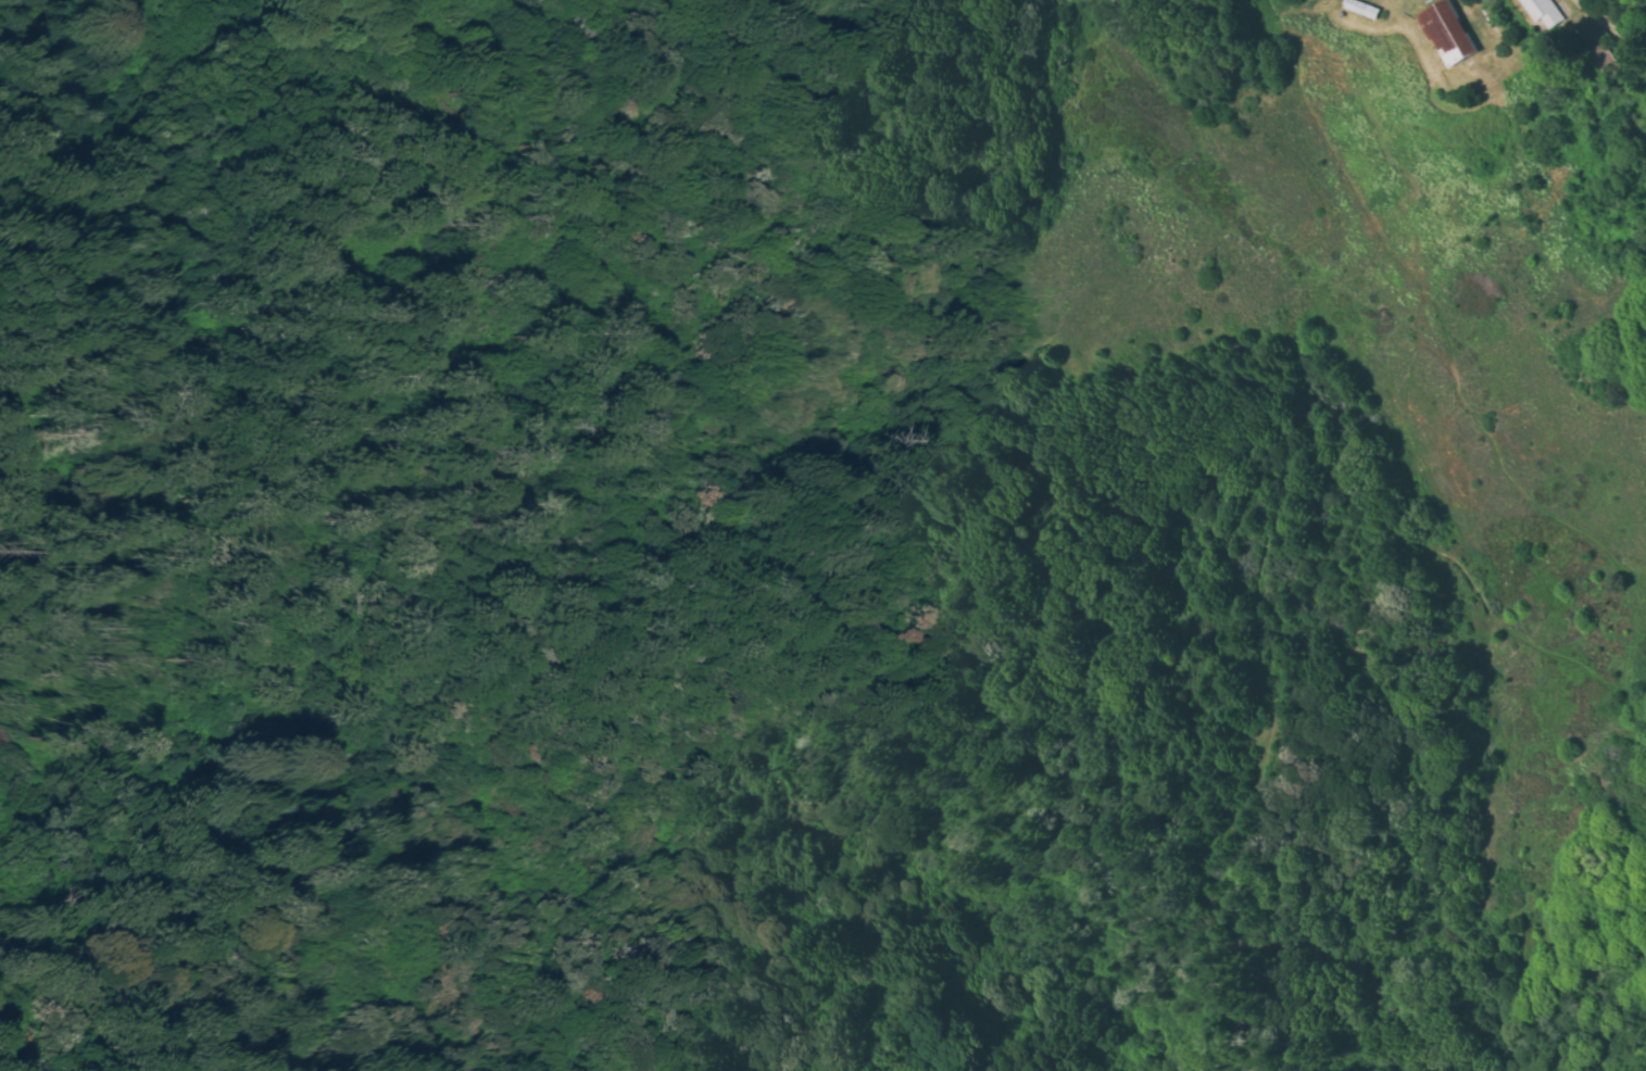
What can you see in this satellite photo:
building: (1450, 34)
road: (1449, 353)
road: (792, 567)
road: (1636, 701)

